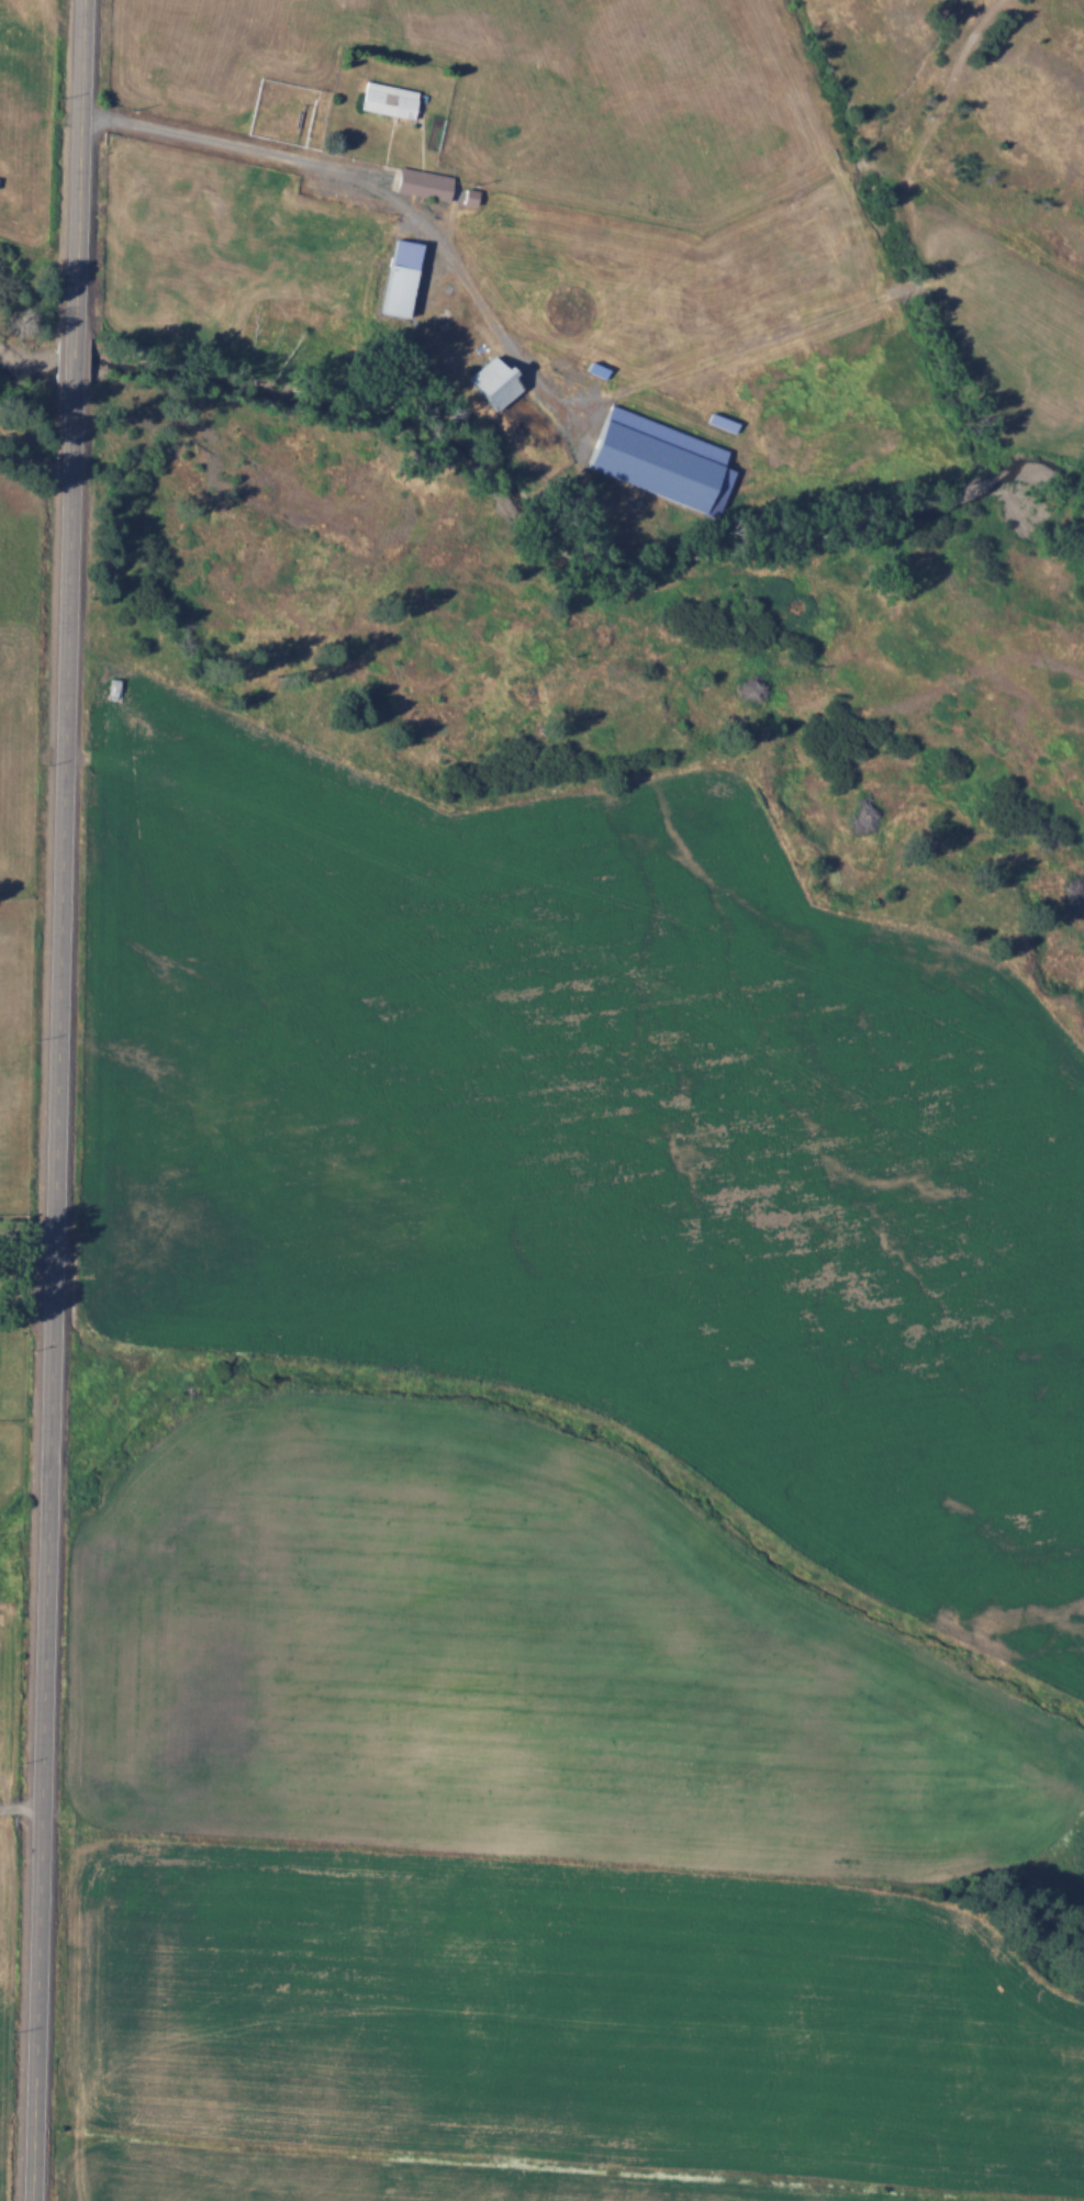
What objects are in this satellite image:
building: (388, 99)
road: (230, 143)
building: (422, 182)
building: (399, 277)
building: (492, 383)
building: (660, 460)
road: (34, 465)
road: (55, 1099)
road: (23, 1806)

